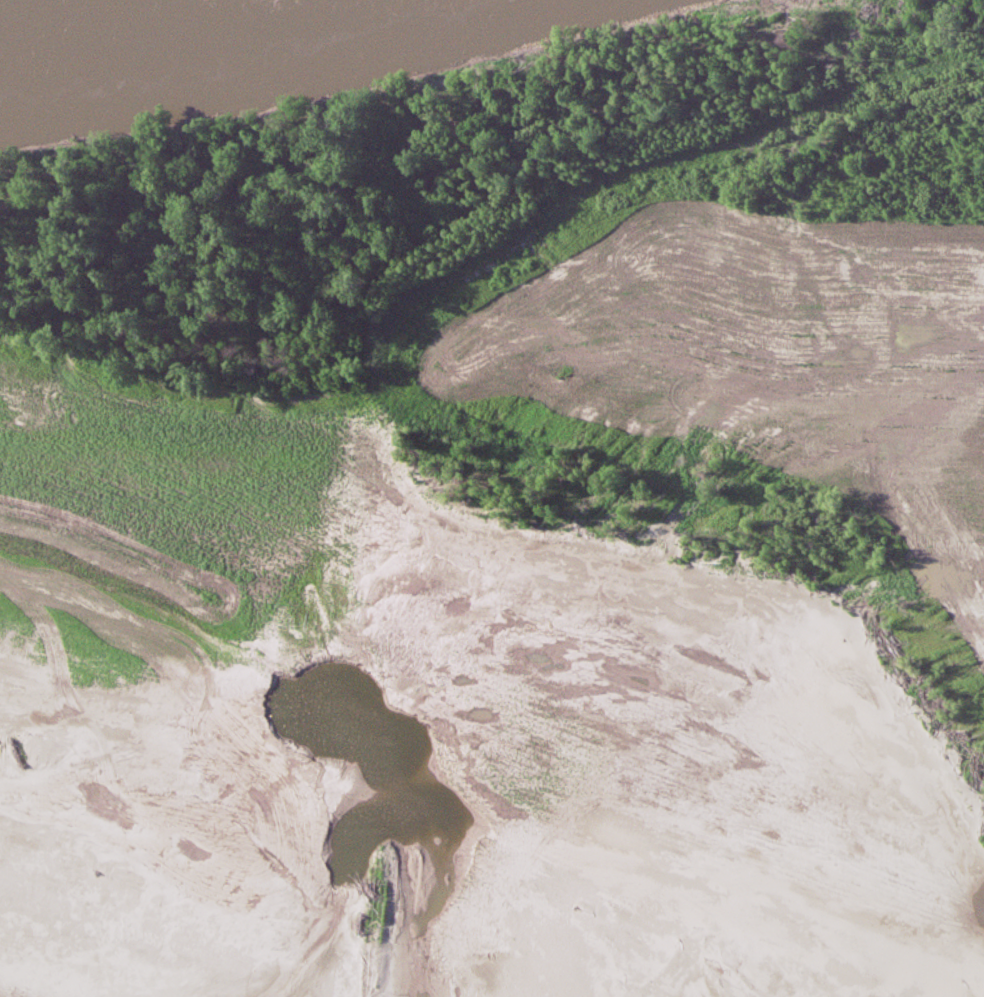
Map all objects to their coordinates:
road: (401, 712)

